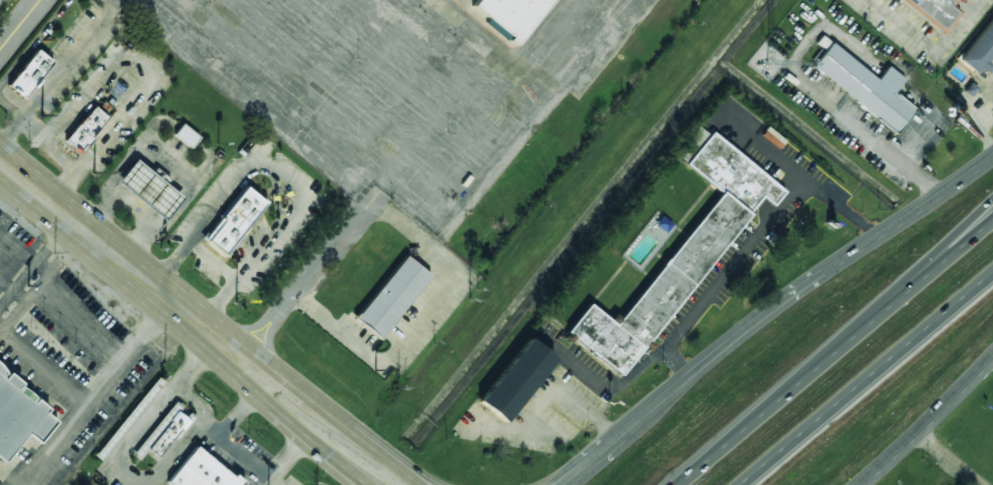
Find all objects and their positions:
building: (883, 0)
building: (933, 11)
building: (510, 14)
building: (979, 50)
building: (30, 73)
building: (863, 86)
building: (85, 128)
building: (186, 135)
building: (689, 143)
building: (150, 189)
building: (236, 221)
road: (950, 245)
building: (683, 253)
road: (119, 264)
road: (814, 279)
building: (392, 297)
road: (832, 352)
road: (866, 379)
building: (517, 380)
road: (195, 398)
road: (312, 398)
road: (152, 411)
building: (19, 418)
road: (926, 420)
road: (292, 427)
road: (210, 429)
building: (165, 430)
road: (225, 442)
road: (606, 449)
road: (173, 453)
road: (950, 457)
road: (405, 466)
road: (401, 468)
building: (202, 472)
road: (435, 482)
road: (361, 483)
road: (362, 483)
road: (558, 484)
road: (564, 484)
road: (565, 484)

